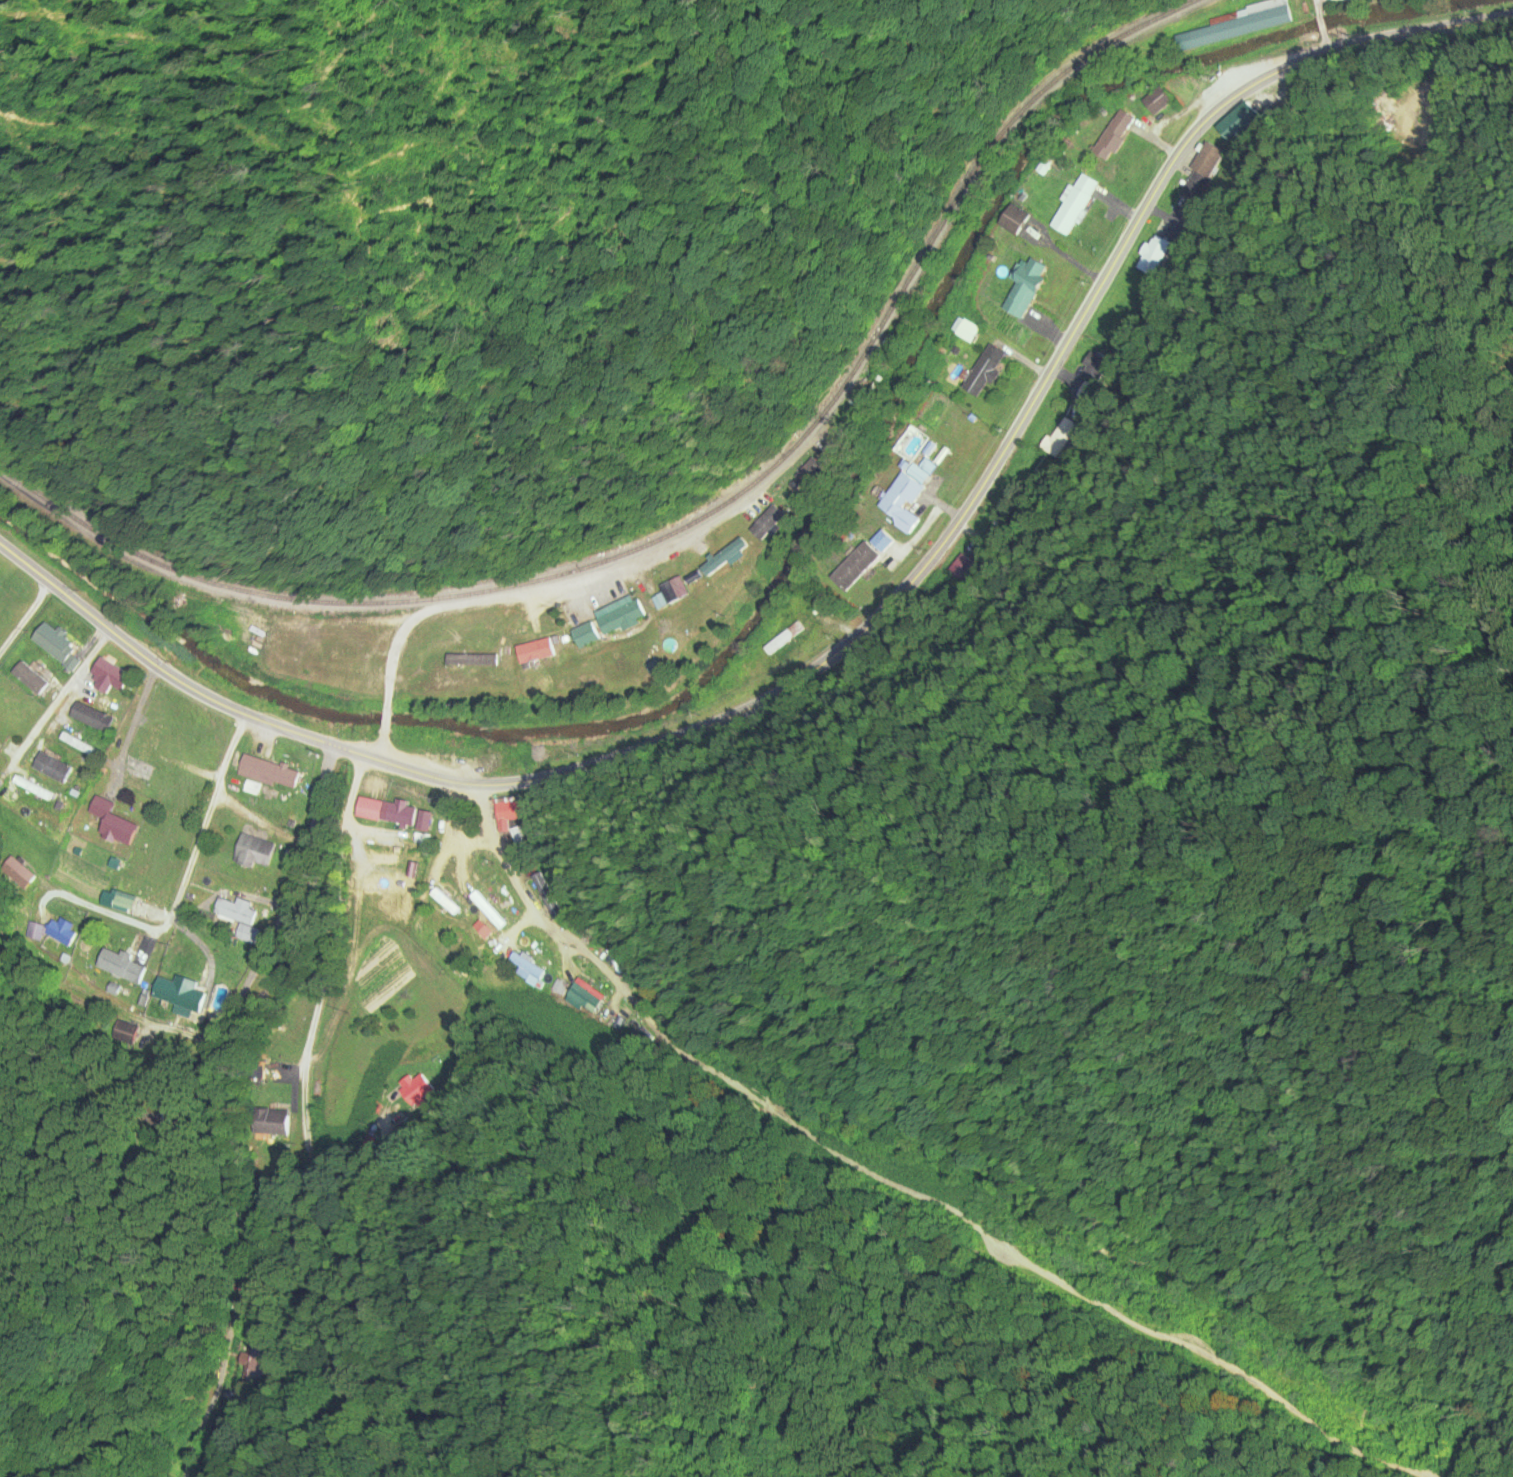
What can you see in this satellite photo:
road: (1315, 7)
building: (1237, 25)
road: (1320, 25)
road: (1323, 42)
building: (1156, 100)
building: (1378, 111)
building: (1113, 135)
building: (1206, 163)
building: (1073, 206)
building: (1013, 220)
building: (1153, 256)
building: (1023, 287)
building: (965, 332)
building: (982, 371)
building: (809, 473)
building: (899, 502)
railway: (695, 521)
building: (766, 523)
building: (725, 557)
building: (853, 567)
road: (559, 605)
road: (21, 620)
building: (615, 620)
road: (853, 626)
building: (792, 638)
building: (56, 647)
building: (435, 663)
building: (110, 675)
building: (29, 679)
road: (51, 709)
road: (384, 715)
building: (90, 718)
road: (136, 720)
building: (148, 744)
building: (81, 747)
road: (382, 749)
building: (51, 768)
building: (267, 773)
building: (508, 811)
building: (400, 814)
building: (423, 821)
building: (111, 824)
road: (209, 826)
building: (252, 853)
road: (502, 855)
building: (17, 873)
building: (444, 892)
building: (121, 902)
road: (103, 910)
building: (239, 917)
building: (51, 931)
building: (119, 965)
building: (525, 966)
road: (325, 983)
building: (178, 993)
building: (415, 1089)
road: (227, 1112)
building: (271, 1122)
road: (956, 1210)

